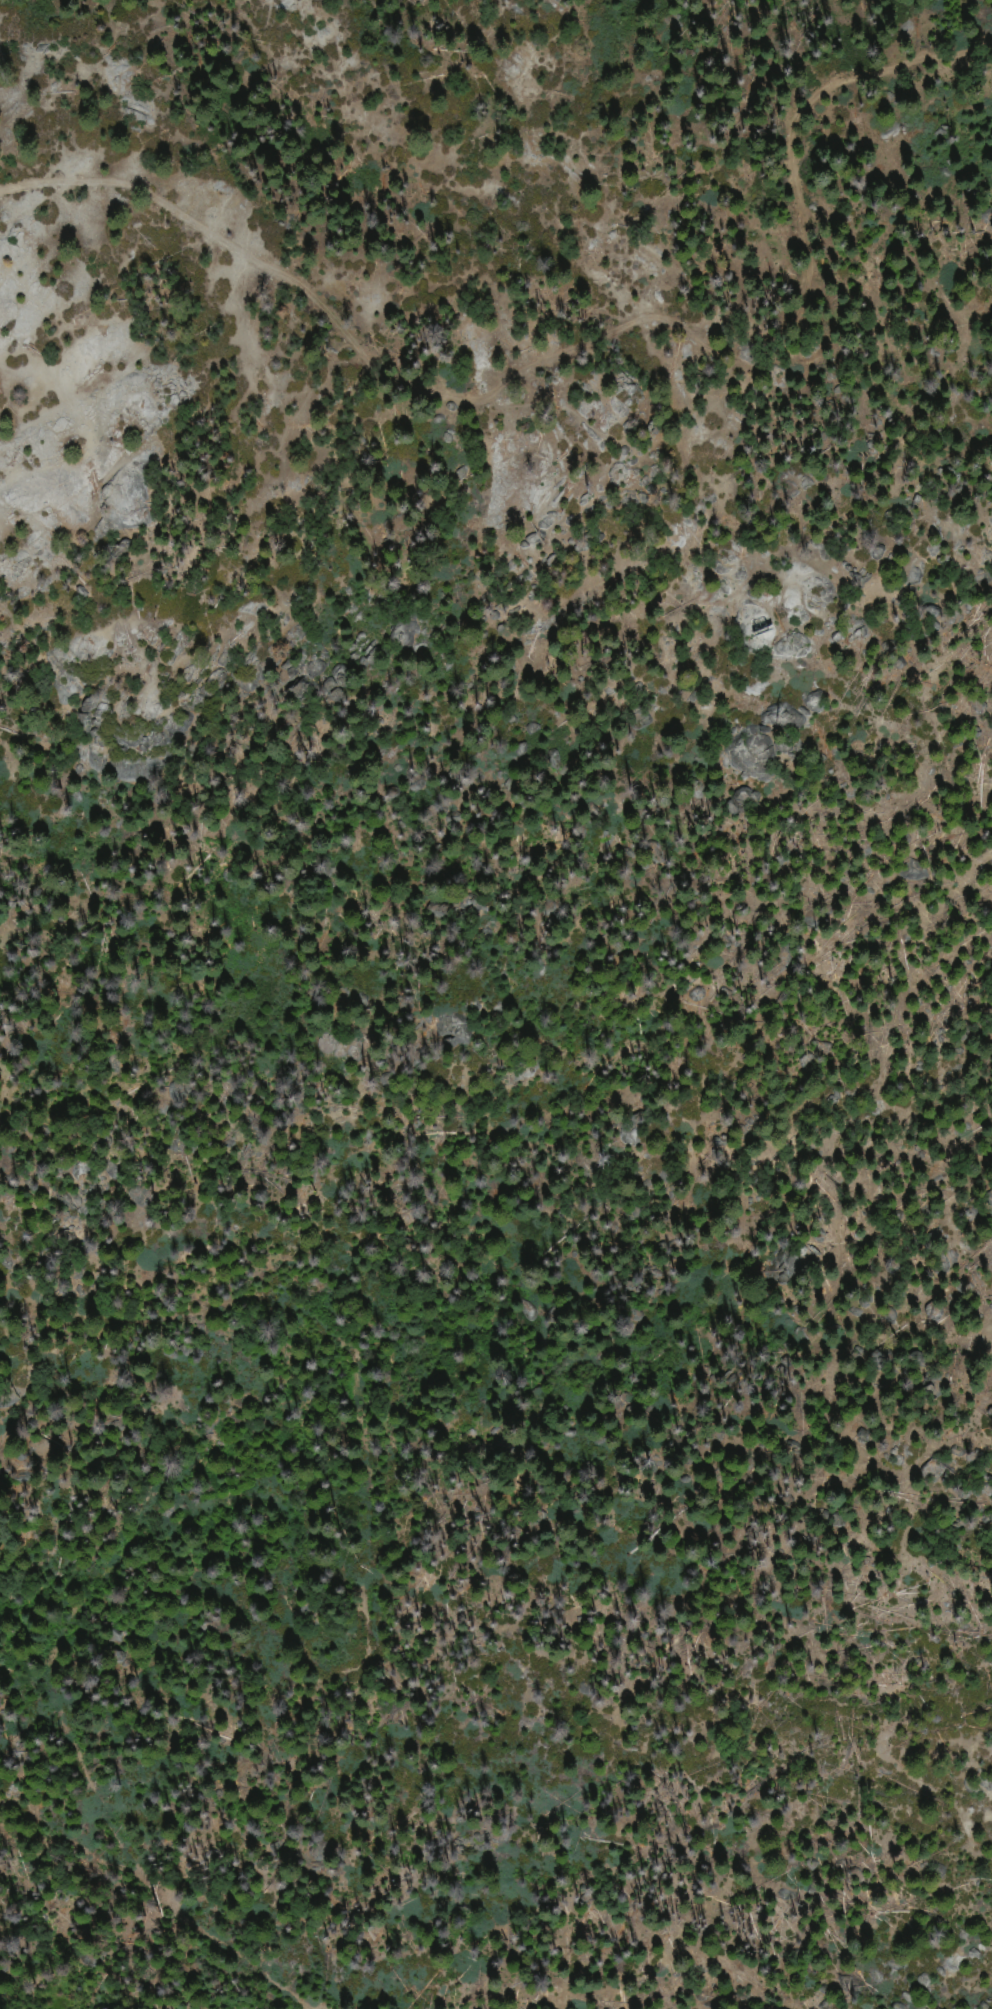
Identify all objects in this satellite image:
road: (584, 416)

